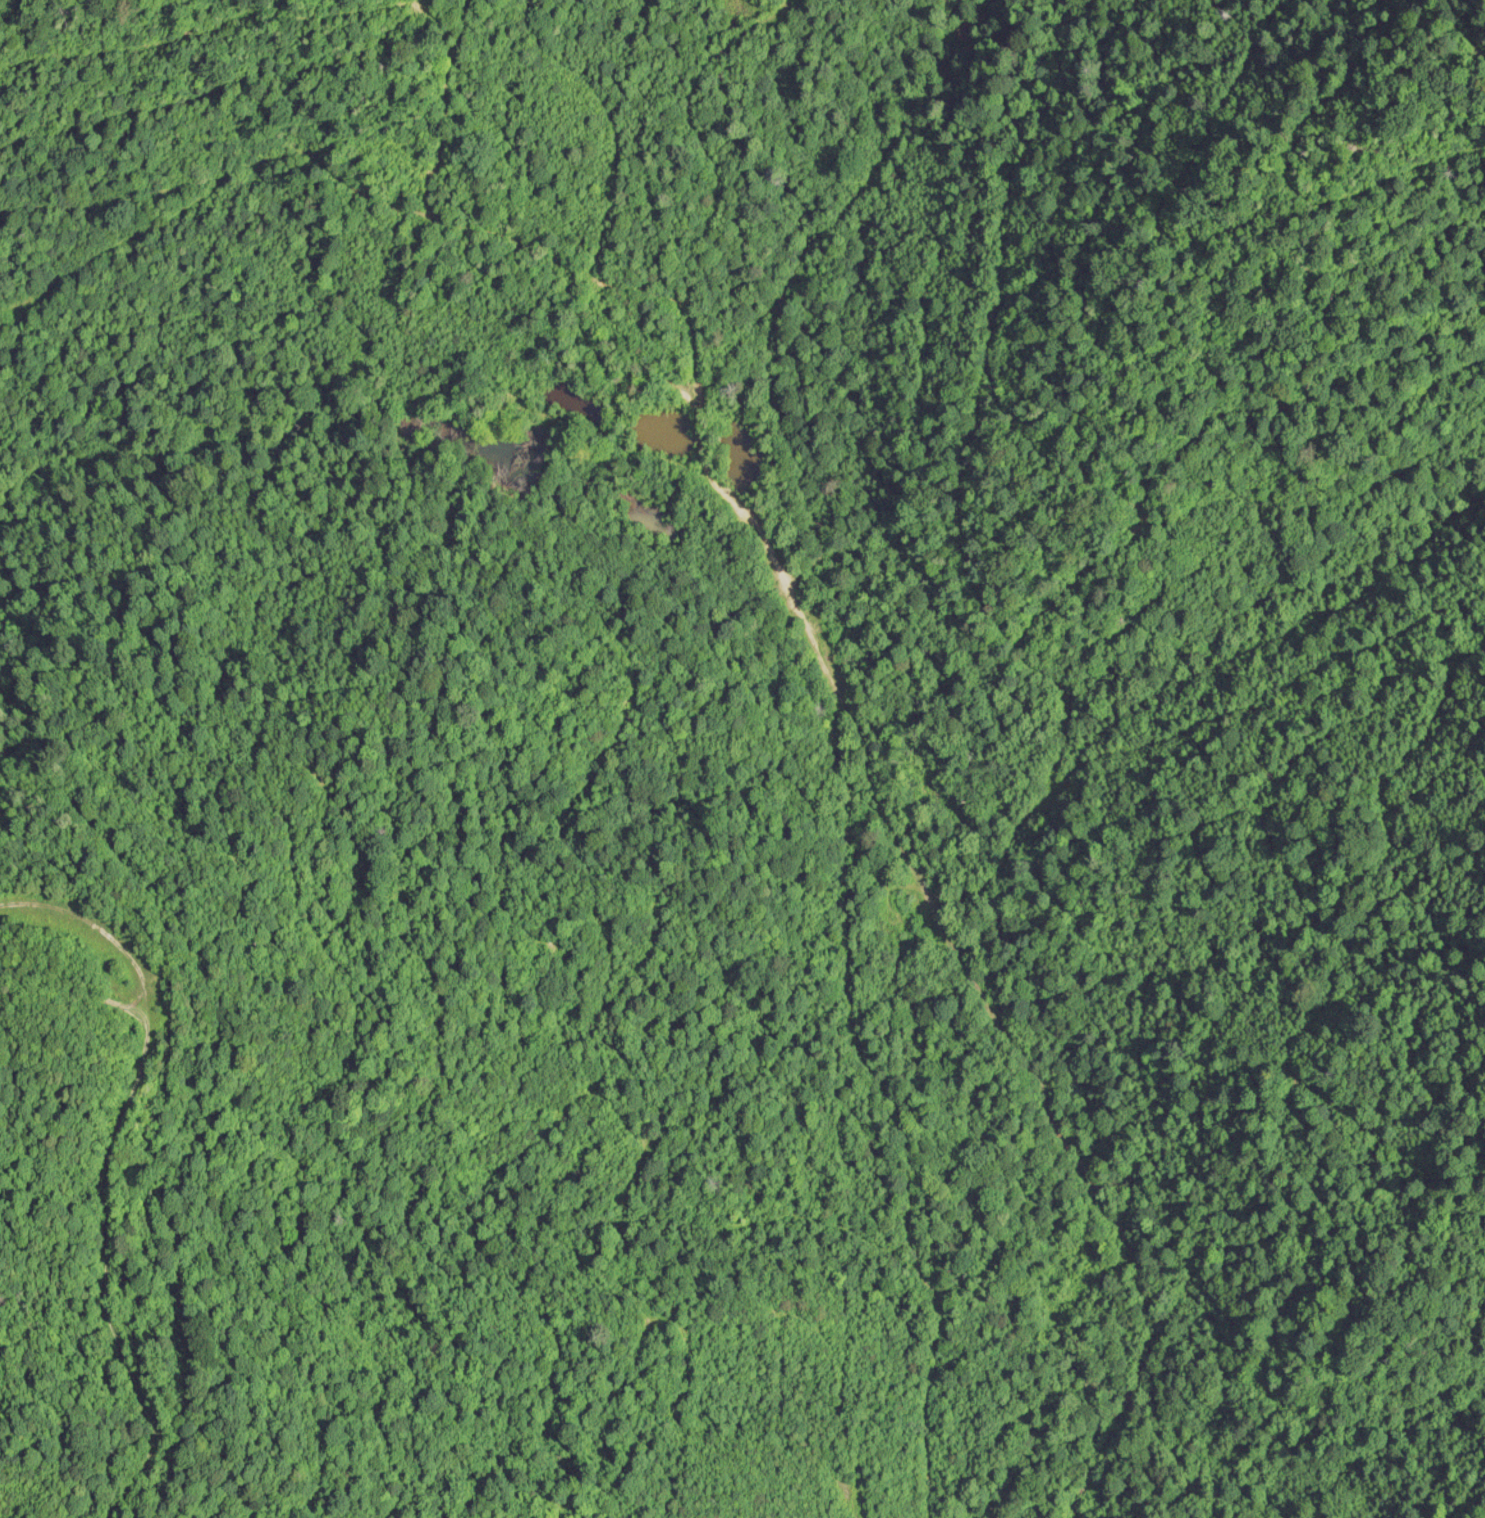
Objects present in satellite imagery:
quarry: (170, 923)

